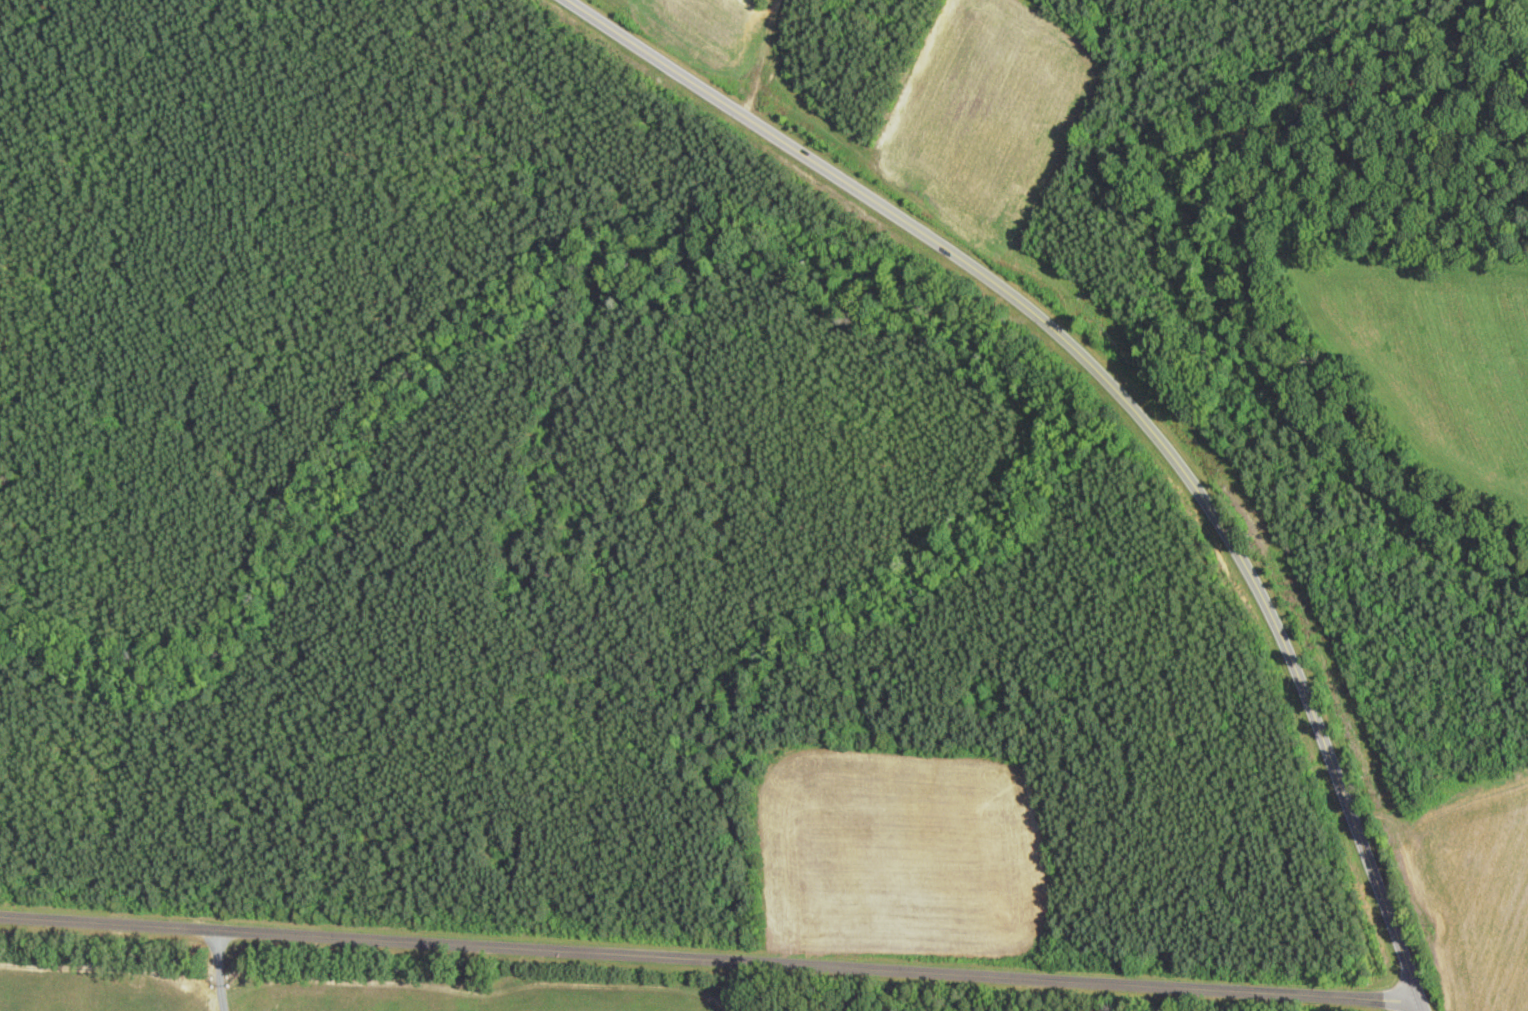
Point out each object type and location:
road: (1121, 394)
road: (710, 960)
road: (216, 971)
road: (1423, 1005)

